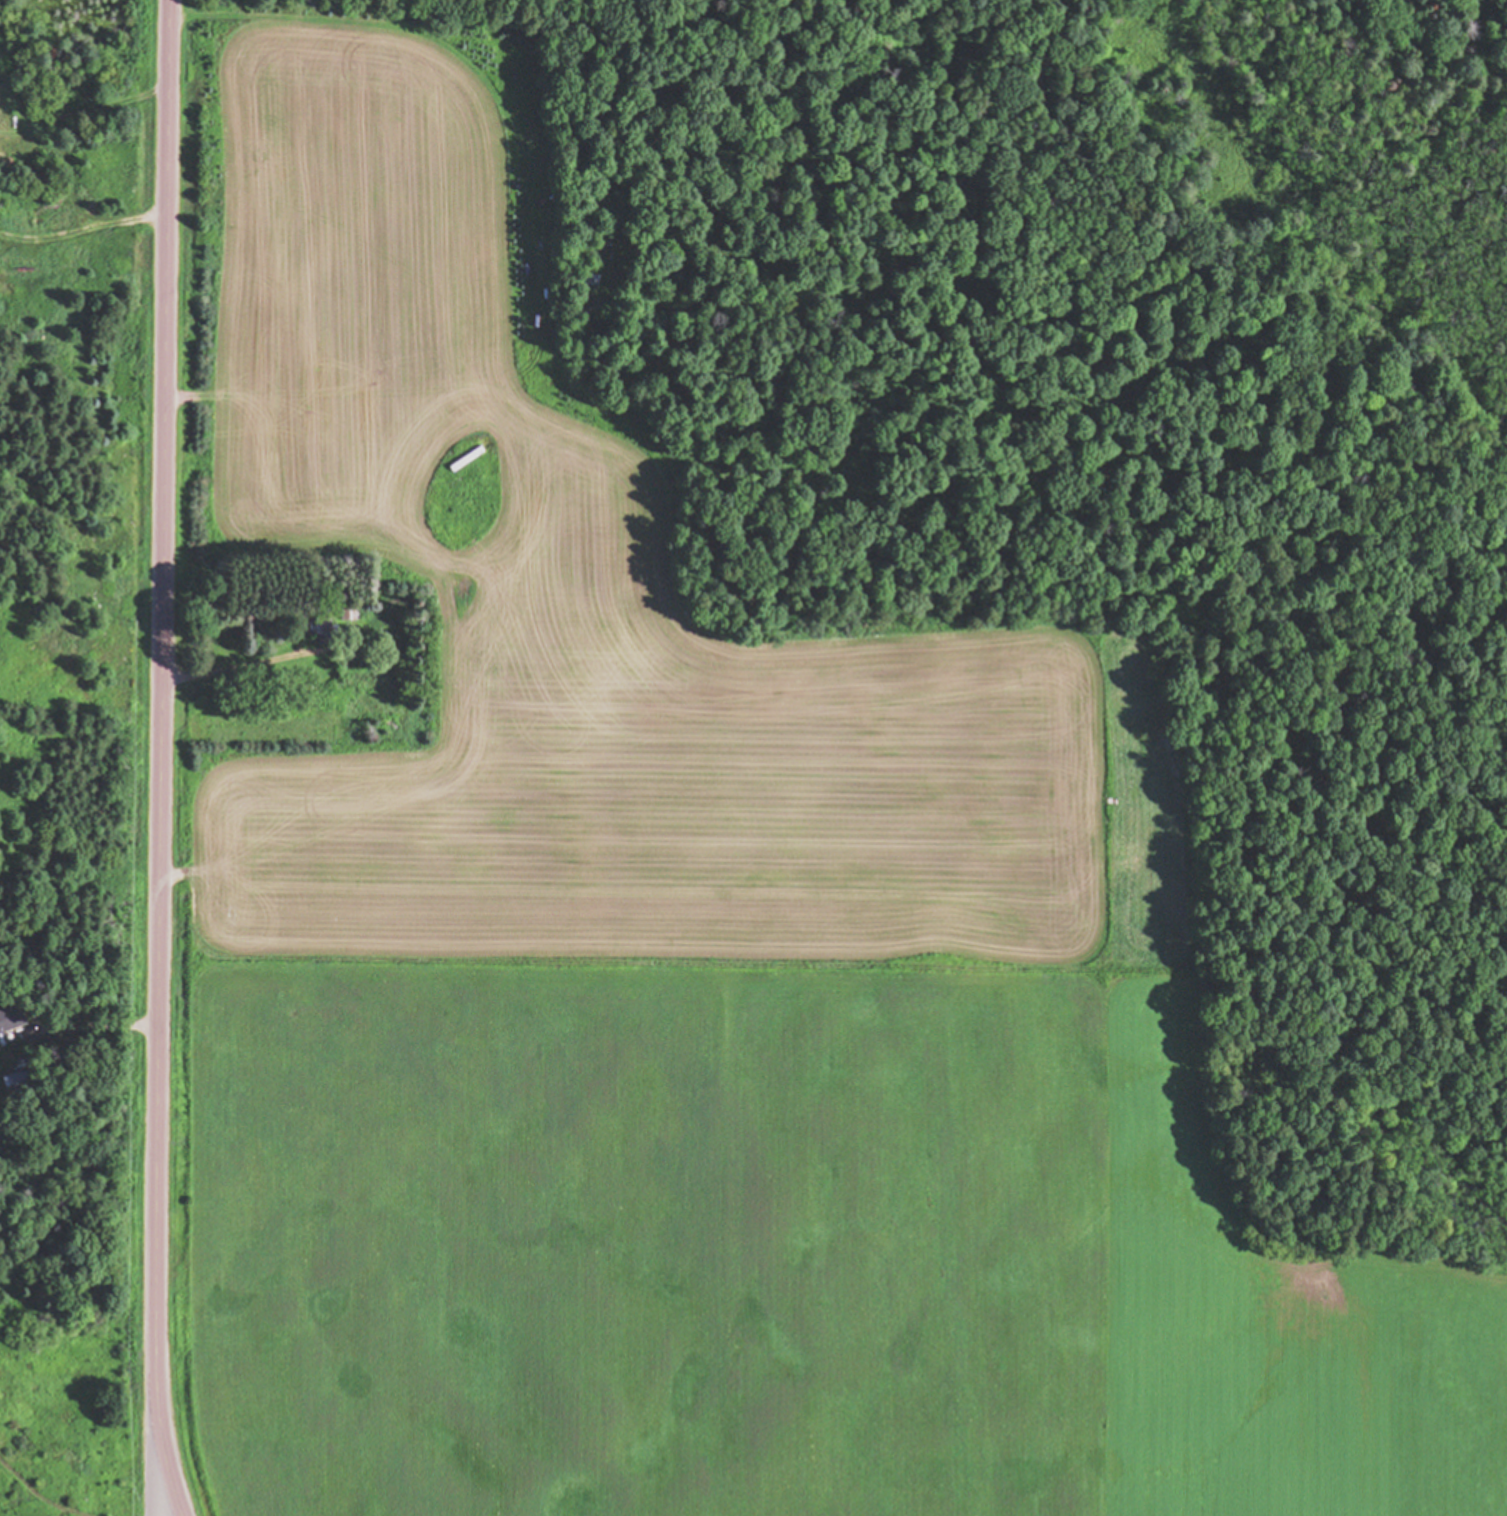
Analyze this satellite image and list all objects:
building: (557, 298)
building: (322, 629)
road: (162, 759)
building: (11, 1018)
building: (23, 1082)
road: (163, 1500)

